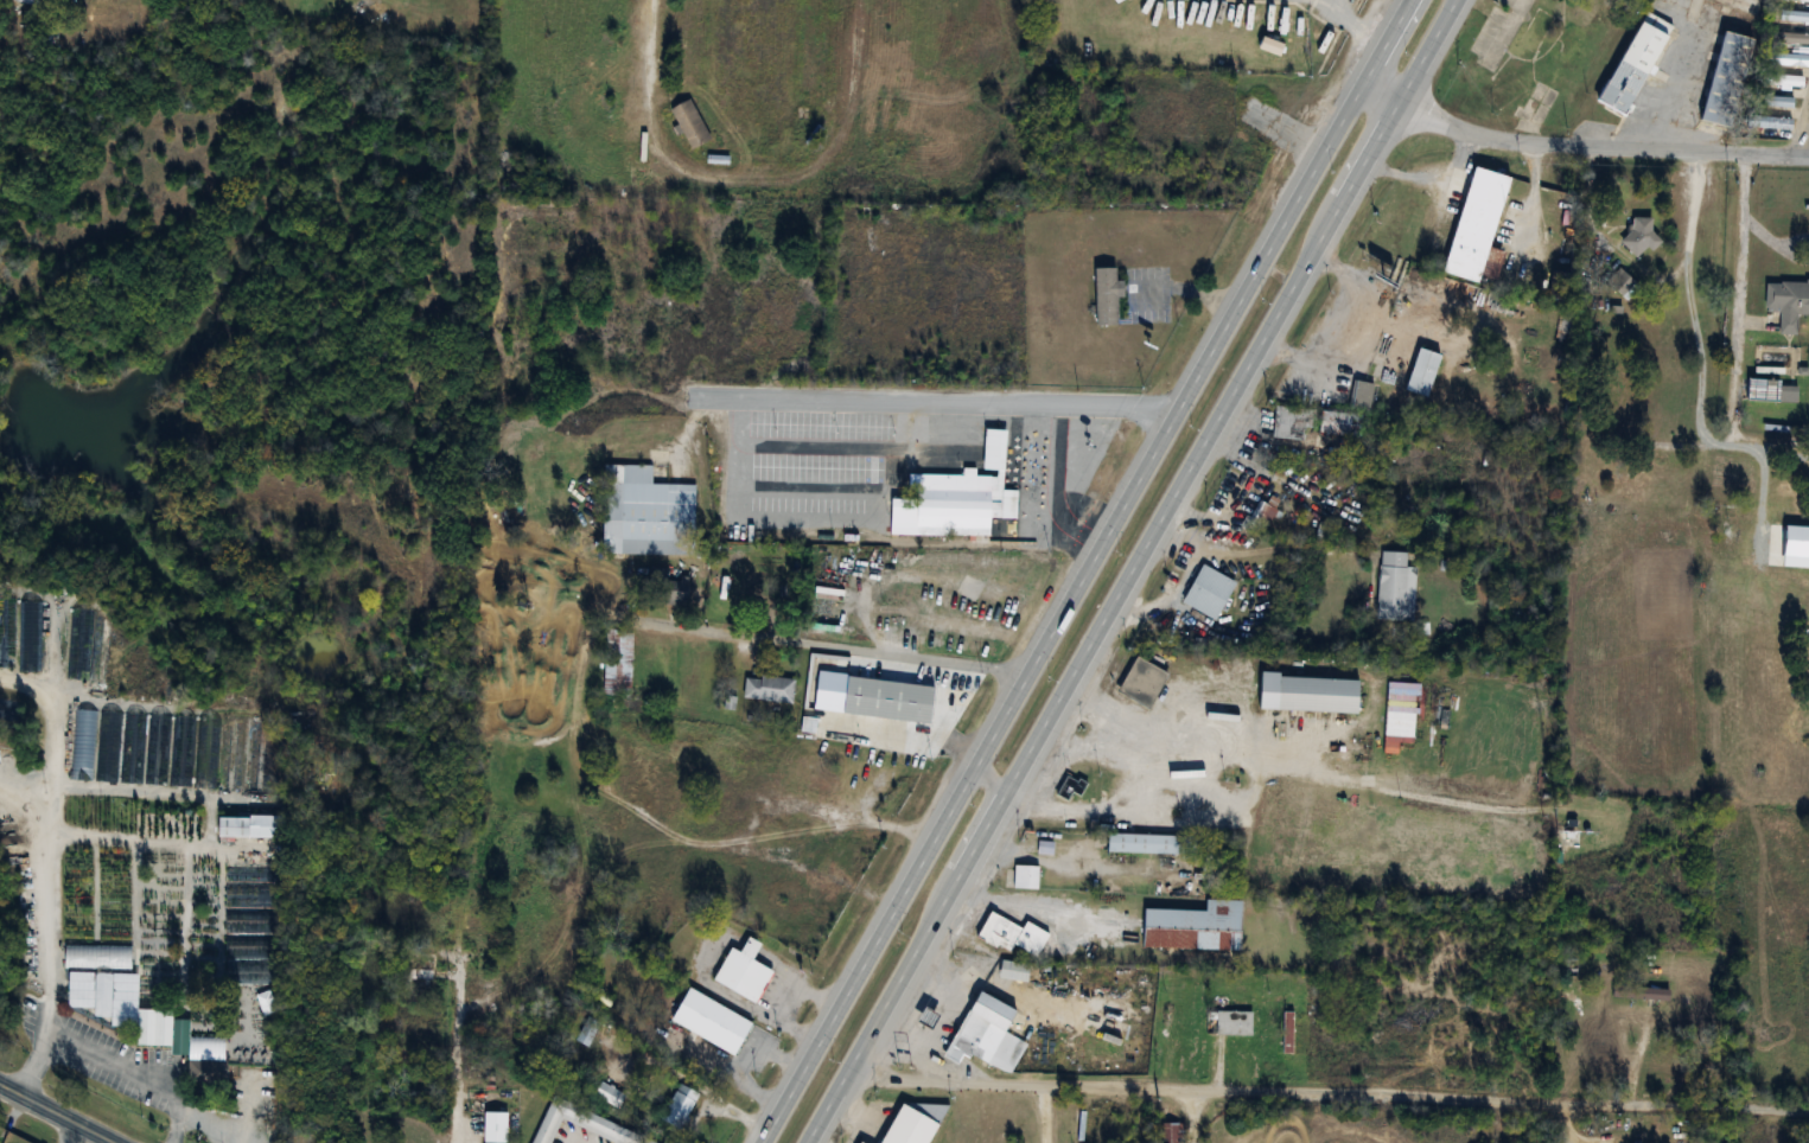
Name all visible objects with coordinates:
building: (1803, 0)
building: (28, 2)
building: (1794, 15)
building: (1788, 37)
building: (689, 43)
building: (810, 45)
road: (646, 47)
building: (1785, 59)
building: (1635, 63)
building: (1722, 77)
building: (1781, 78)
building: (1767, 121)
building: (689, 123)
road: (1804, 142)
road: (1581, 147)
road: (732, 166)
building: (1476, 228)
building: (1638, 238)
building: (1622, 283)
building: (1106, 298)
building: (1786, 302)
road: (1338, 331)
road: (1225, 337)
road: (1262, 341)
building: (1421, 372)
building: (1770, 391)
building: (1361, 395)
road: (953, 402)
building: (1291, 422)
building: (1337, 423)
building: (1785, 435)
road: (1713, 440)
building: (1633, 479)
building: (1792, 491)
building: (944, 505)
building: (1265, 509)
building: (644, 513)
road: (1260, 547)
building: (1394, 587)
building: (670, 589)
building: (1206, 592)
road: (1171, 593)
building: (743, 595)
road: (835, 647)
building: (616, 663)
building: (767, 688)
building: (1316, 694)
building: (886, 698)
road: (994, 778)
building: (1069, 788)
building: (248, 826)
building: (1142, 844)
building: (6, 849)
building: (1024, 877)
road: (899, 907)
road: (939, 914)
building: (471, 922)
building: (1193, 927)
building: (1013, 936)
road: (46, 944)
building: (1566, 966)
building: (740, 971)
building: (415, 978)
building: (1639, 992)
building: (104, 996)
building: (265, 1002)
building: (708, 1021)
building: (1232, 1022)
road: (466, 1030)
building: (975, 1032)
building: (1286, 1032)
building: (198, 1055)
road: (129, 1074)
road: (1329, 1092)
building: (609, 1094)
building: (680, 1104)
road: (1040, 1110)
road: (58, 1112)
road: (205, 1122)
building: (911, 1123)
building: (582, 1124)
building: (493, 1128)
road: (63, 1130)
building: (1171, 1132)
building: (859, 1142)

